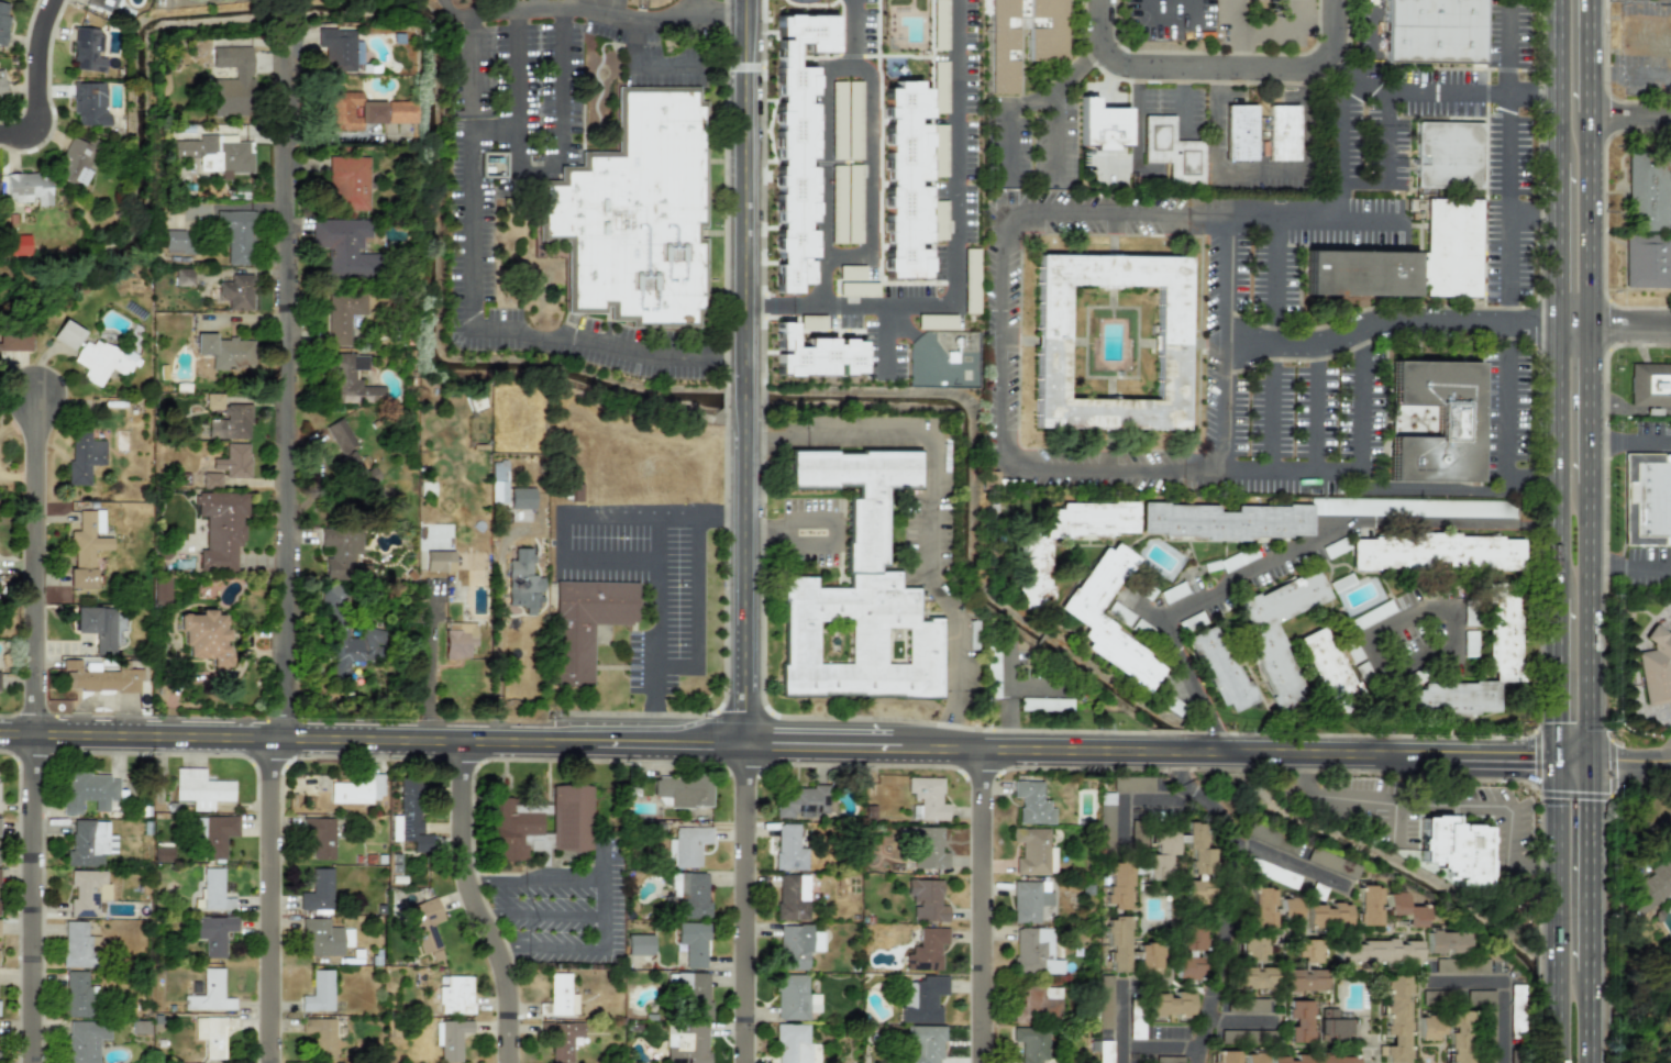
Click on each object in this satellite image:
road: (1631, 0)
building: (102, 4)
road: (533, 4)
road: (697, 7)
road: (1173, 12)
road: (452, 14)
building: (3, 19)
building: (1436, 34)
building: (1045, 43)
building: (88, 48)
building: (336, 48)
road: (1592, 55)
road: (666, 65)
road: (1216, 70)
road: (1552, 80)
building: (233, 81)
road: (29, 85)
building: (0, 88)
road: (1454, 92)
road: (1184, 99)
road: (1031, 100)
building: (89, 103)
road: (283, 106)
road: (1344, 106)
building: (352, 111)
building: (401, 112)
road: (1137, 118)
building: (845, 120)
road: (1631, 123)
building: (1100, 125)
road: (490, 128)
road: (1052, 129)
building: (1239, 132)
building: (1282, 133)
road: (871, 145)
building: (795, 147)
building: (1171, 150)
road: (1508, 154)
road: (1384, 158)
building: (1451, 160)
building: (75, 162)
road: (538, 166)
road: (466, 168)
road: (1259, 171)
road: (821, 174)
building: (905, 179)
building: (347, 182)
building: (27, 187)
building: (845, 203)
building: (637, 214)
road: (1592, 220)
building: (1648, 225)
building: (236, 234)
building: (177, 241)
building: (339, 244)
road: (1552, 244)
road: (1003, 251)
road: (953, 253)
building: (1454, 255)
road: (1273, 264)
building: (182, 278)
building: (1363, 285)
building: (235, 292)
building: (342, 315)
road: (1386, 328)
road: (1572, 328)
road: (1631, 329)
building: (66, 334)
building: (15, 340)
building: (1052, 343)
building: (223, 351)
building: (814, 354)
building: (100, 361)
road: (749, 372)
building: (351, 380)
building: (1656, 392)
building: (212, 400)
road: (1592, 406)
road: (1222, 413)
road: (1270, 420)
building: (1434, 420)
building: (229, 422)
road: (1317, 423)
building: (339, 435)
road: (1506, 440)
road: (1631, 440)
road: (283, 447)
building: (82, 456)
road: (1552, 462)
building: (228, 465)
building: (357, 470)
road: (1369, 489)
building: (520, 498)
building: (1647, 505)
road: (930, 506)
road: (737, 511)
road: (612, 512)
road: (694, 512)
road: (833, 514)
building: (1296, 516)
building: (220, 528)
road: (563, 536)
building: (86, 549)
road: (1293, 552)
building: (1435, 552)
building: (341, 554)
building: (438, 561)
road: (612, 563)
building: (1032, 567)
road: (1631, 567)
building: (522, 582)
road: (700, 588)
building: (161, 589)
building: (857, 593)
road: (661, 612)
road: (1398, 619)
building: (1089, 622)
road: (1592, 622)
building: (586, 624)
building: (101, 627)
building: (1501, 627)
building: (206, 636)
building: (458, 639)
road: (679, 664)
building: (1326, 665)
building: (1656, 665)
building: (1219, 668)
building: (1275, 669)
road: (429, 673)
building: (99, 676)
road: (1552, 677)
road: (1032, 687)
road: (1007, 699)
building: (1045, 704)
road: (660, 728)
road: (1214, 731)
road: (31, 734)
road: (374, 738)
road: (1150, 751)
traffic signals: (1552, 759)
road: (1572, 760)
traffic signals: (1592, 761)
road: (1631, 761)
road: (1181, 767)
building: (200, 789)
building: (357, 790)
building: (88, 791)
building: (684, 793)
building: (926, 799)
building: (799, 802)
building: (1031, 802)
road: (1441, 805)
building: (409, 817)
building: (571, 818)
building: (519, 831)
building: (215, 833)
building: (320, 839)
building: (90, 842)
building: (687, 845)
building: (1453, 846)
building: (789, 848)
building: (927, 848)
building: (1034, 853)
building: (162, 854)
road: (601, 860)
road: (1282, 861)
building: (1331, 863)
road: (1591, 866)
building: (1164, 867)
road: (562, 879)
road: (471, 881)
road: (505, 881)
building: (1649, 883)
building: (214, 890)
building: (86, 892)
building: (318, 892)
building: (690, 894)
building: (792, 897)
road: (267, 899)
building: (926, 900)
building: (1029, 900)
road: (748, 904)
building: (1366, 904)
road: (461, 905)
road: (976, 905)
building: (1261, 907)
building: (1404, 908)
building: (1288, 909)
road: (1552, 910)
road: (477, 911)
road: (512, 911)
road: (567, 911)
road: (601, 913)
road: (1227, 916)
building: (1327, 916)
building: (425, 926)
building: (213, 933)
building: (322, 938)
building: (1191, 938)
building: (1445, 940)
building: (1117, 942)
building: (693, 943)
building: (77, 944)
building: (639, 944)
building: (797, 945)
road: (493, 948)
road: (516, 948)
road: (564, 948)
building: (1251, 949)
building: (927, 950)
building: (1306, 950)
building: (1034, 952)
building: (1376, 952)
building: (1148, 959)
building: (1187, 966)
building: (1252, 977)
building: (1303, 979)
road: (1501, 989)
building: (319, 992)
building: (210, 993)
building: (695, 993)
building: (76, 994)
building: (455, 995)
building: (562, 995)
building: (1480, 997)
building: (794, 998)
building: (922, 998)
building: (1104, 1001)
building: (1037, 1004)
building: (1243, 1005)
building: (1170, 1006)
building: (1516, 1010)
road: (1591, 1017)
building: (1395, 1019)
building: (1298, 1021)
building: (1335, 1026)
building: (1428, 1028)
building: (212, 1034)
building: (320, 1036)
building: (1459, 1037)
building: (452, 1039)
building: (562, 1039)
building: (85, 1040)
building: (793, 1043)
building: (1030, 1043)
building: (923, 1044)
road: (1130, 1044)
road: (1120, 1053)
building: (1228, 1056)
road: (1369, 1056)
building: (1253, 1058)
building: (1310, 1059)

